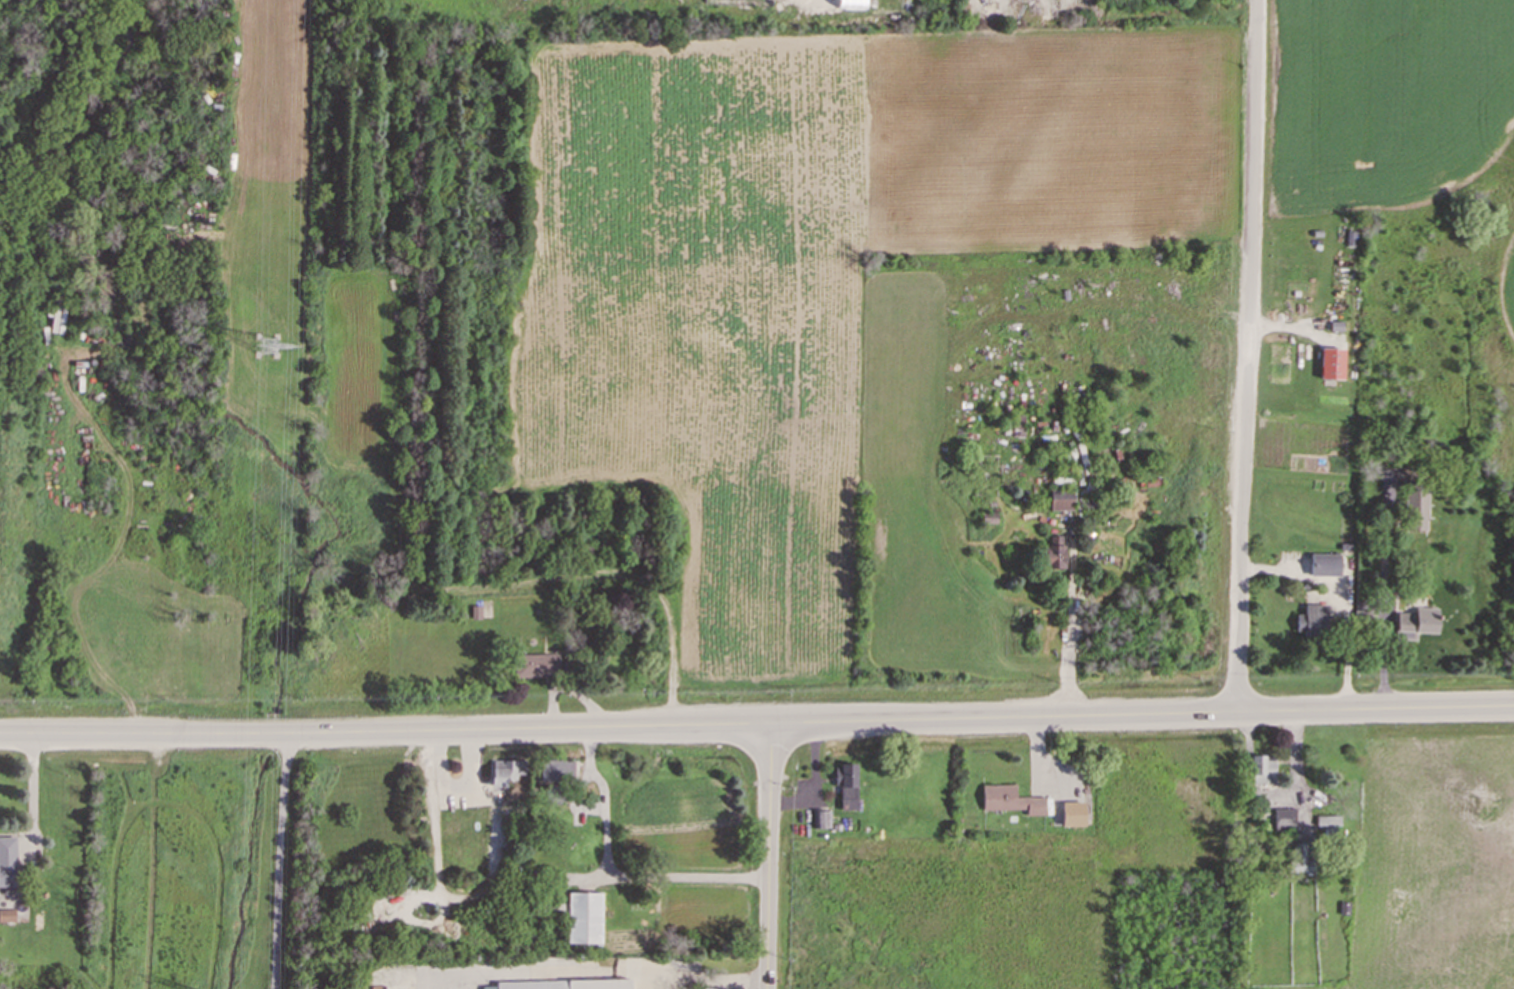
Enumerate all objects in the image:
building: (851, 4)
crop: (1388, 109)
crop: (811, 264)
power tower: (269, 348)
road: (1248, 355)
building: (1330, 363)
building: (1060, 499)
building: (1414, 507)
building: (988, 517)
building: (1053, 552)
building: (1324, 564)
road: (1384, 603)
building: (475, 611)
building: (1311, 620)
building: (1415, 622)
road: (1067, 646)
building: (535, 664)
road: (896, 719)
road: (265, 728)
road: (125, 729)
road: (429, 755)
building: (555, 769)
building: (1262, 769)
road: (473, 770)
building: (504, 771)
building: (846, 784)
road: (32, 788)
building: (1009, 799)
building: (1071, 813)
building: (1283, 818)
building: (821, 819)
building: (1328, 823)
road: (438, 844)
road: (769, 855)
building: (1299, 856)
road: (281, 858)
building: (7, 864)
crop: (1434, 865)
road: (612, 874)
building: (6, 914)
building: (584, 917)
road: (703, 975)
building: (563, 984)

